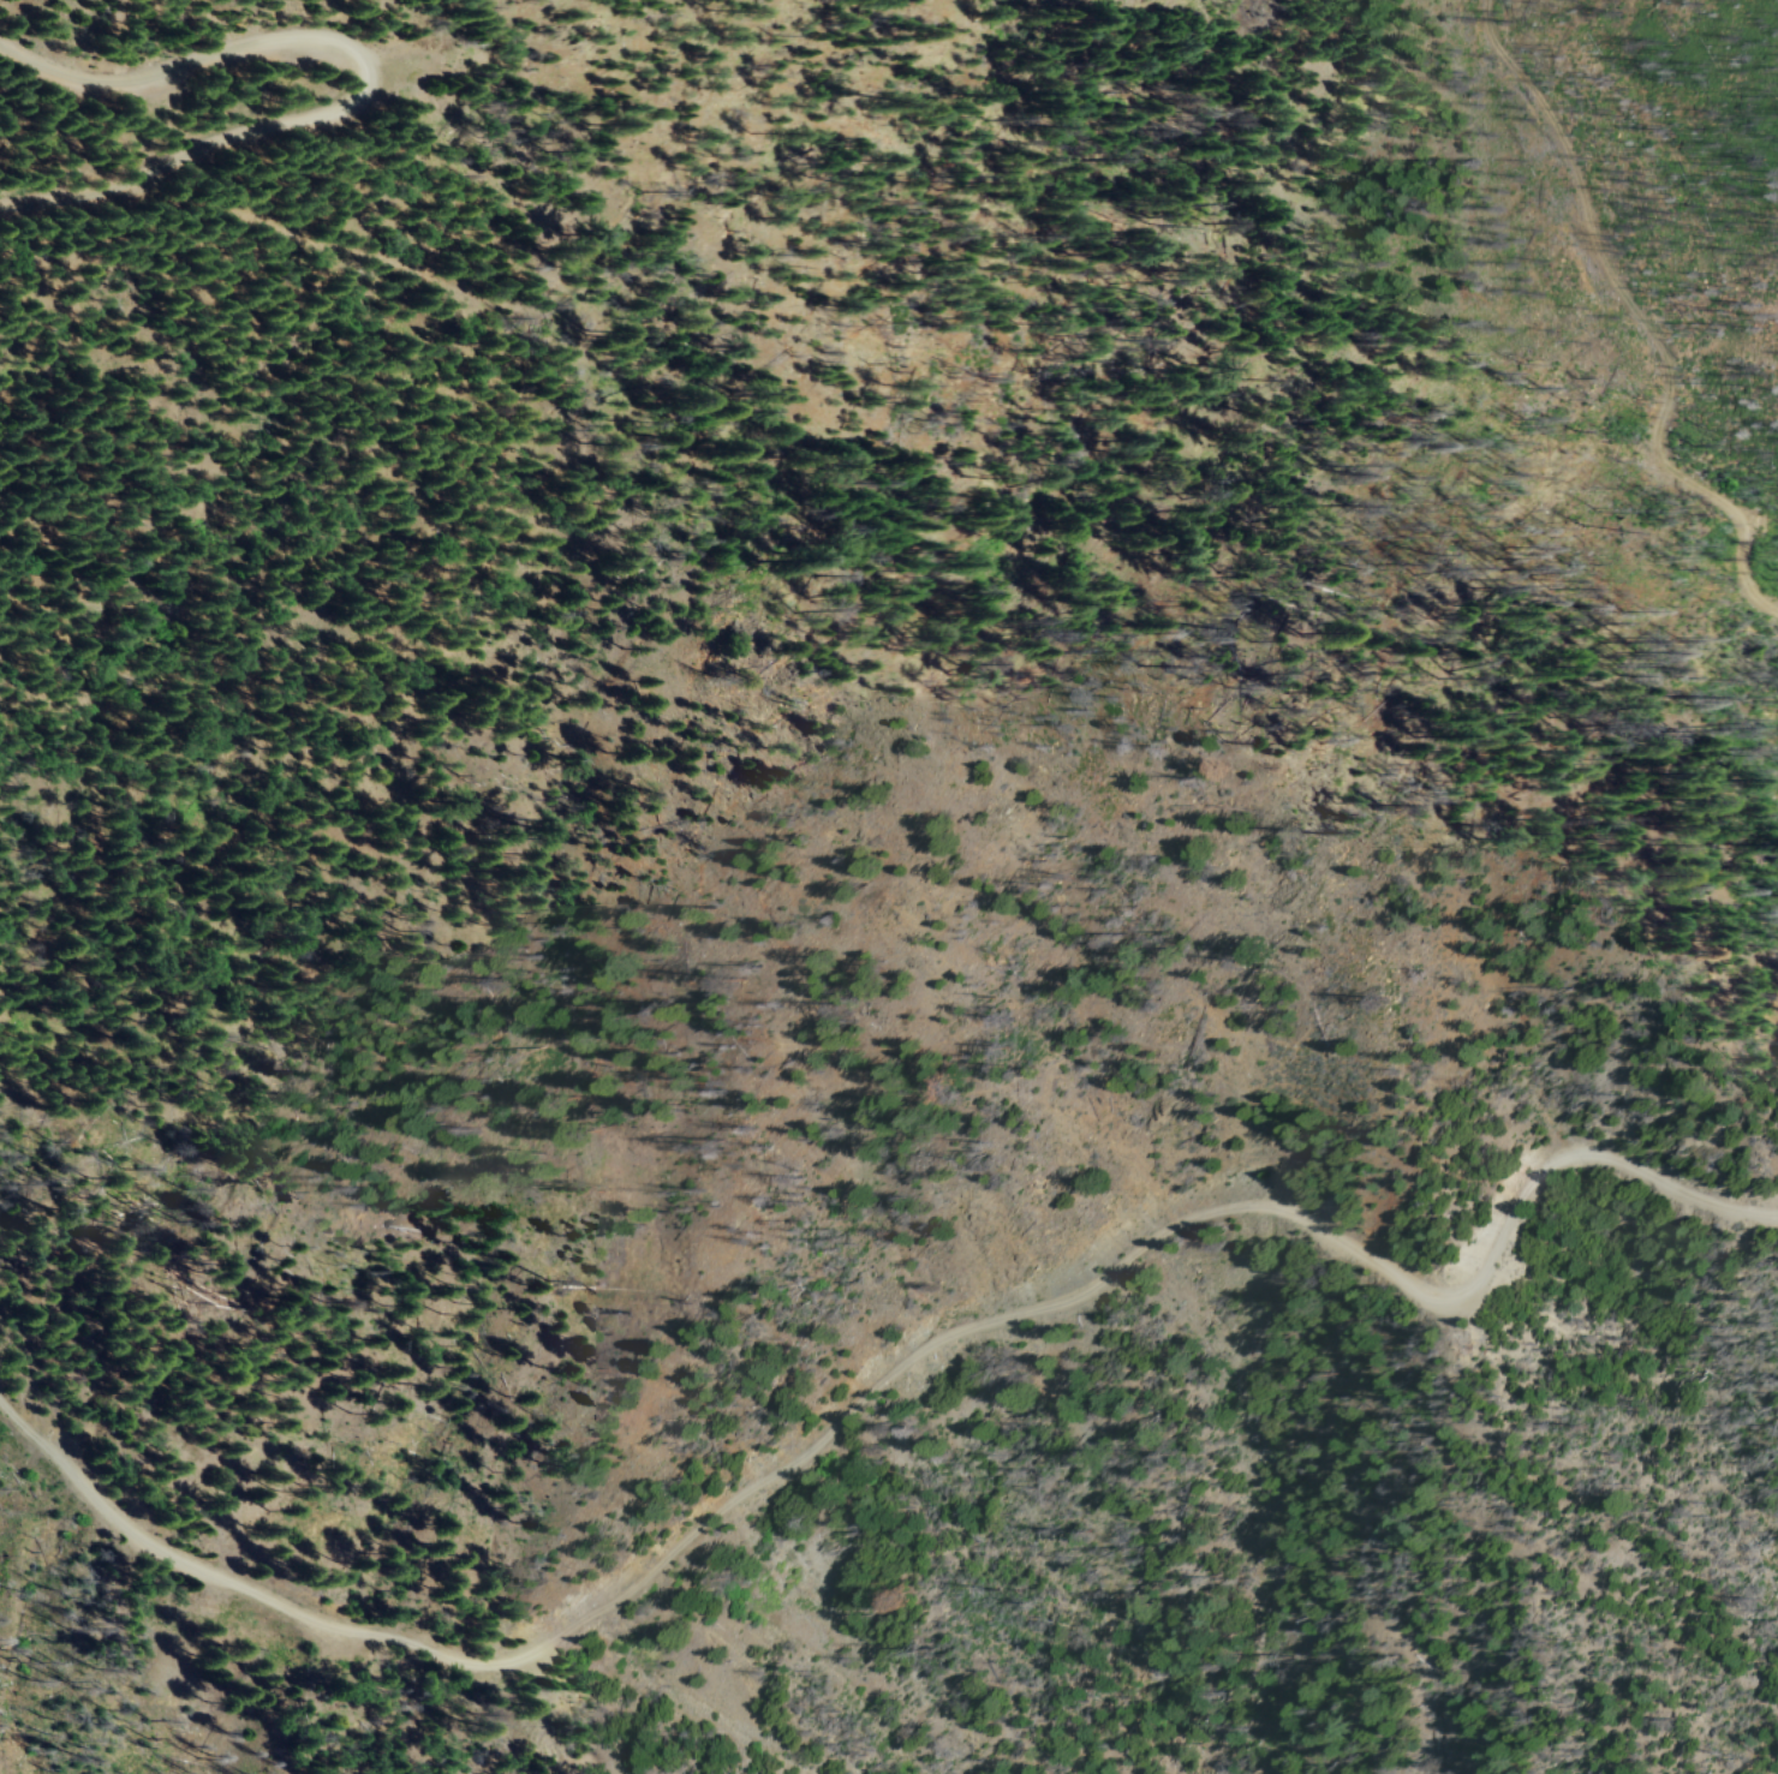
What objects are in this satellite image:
road: (353, 97)
road: (1635, 309)
road: (875, 1394)

